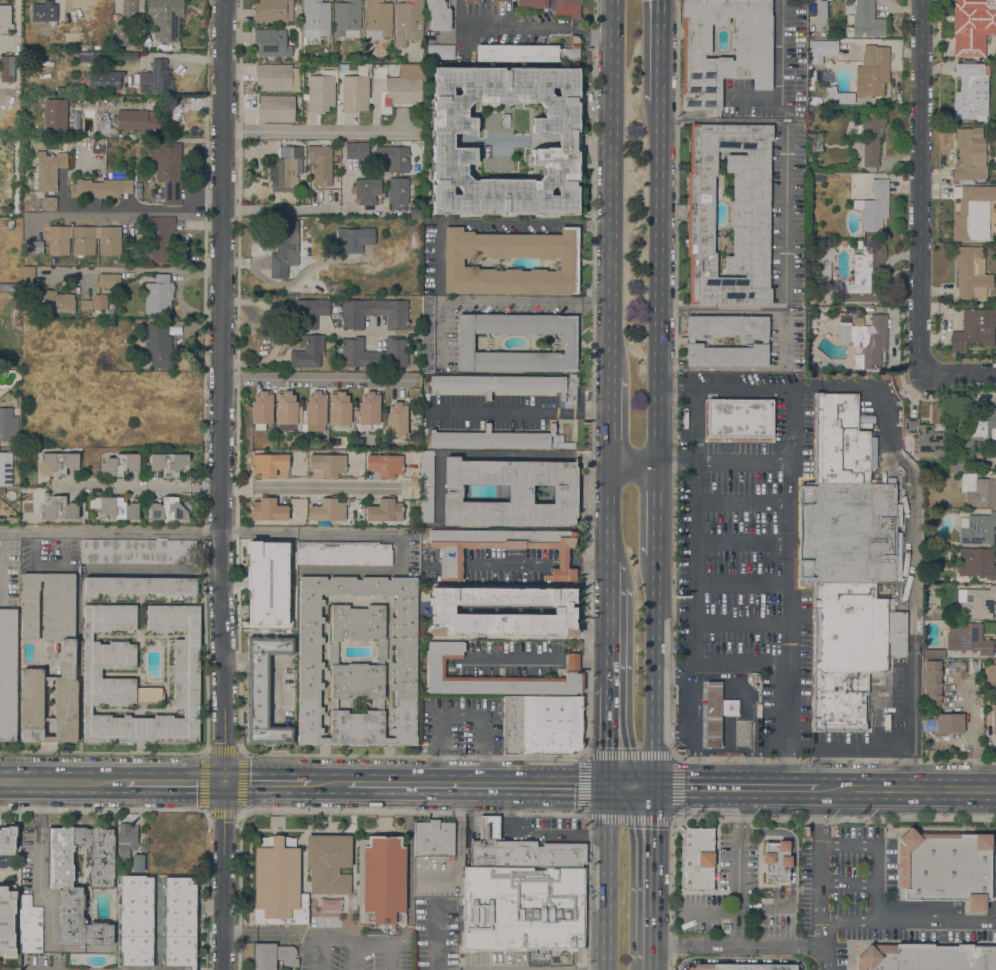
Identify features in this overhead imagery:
building: (128, 7)
building: (273, 10)
building: (49, 13)
building: (438, 15)
building: (165, 18)
building: (5, 19)
building: (347, 19)
building: (377, 19)
building: (315, 20)
building: (865, 20)
building: (408, 21)
building: (972, 26)
road: (528, 29)
building: (523, 32)
road: (602, 32)
building: (122, 35)
building: (137, 43)
building: (271, 43)
building: (827, 46)
building: (70, 47)
building: (334, 48)
road: (659, 50)
building: (440, 51)
building: (124, 56)
building: (84, 57)
building: (752, 57)
building: (9, 67)
building: (811, 67)
parking lot: (775, 70)
building: (871, 71)
road: (777, 75)
building: (276, 77)
building: (156, 78)
building: (104, 79)
building: (75, 87)
building: (403, 89)
building: (130, 91)
building: (321, 91)
building: (355, 91)
building: (970, 91)
building: (838, 98)
building: (275, 109)
building: (55, 115)
building: (137, 119)
road: (723, 121)
building: (104, 127)
road: (323, 132)
building: (871, 136)
building: (442, 140)
building: (814, 141)
building: (64, 144)
building: (356, 150)
building: (969, 155)
building: (394, 157)
building: (320, 164)
building: (168, 169)
building: (286, 169)
building: (48, 170)
building: (818, 177)
building: (100, 188)
road: (612, 188)
road: (922, 188)
building: (367, 190)
building: (50, 193)
building: (397, 193)
building: (49, 203)
building: (875, 206)
road: (300, 210)
road: (712, 210)
building: (414, 212)
building: (687, 213)
road: (694, 213)
building: (748, 213)
parking lot: (786, 213)
building: (973, 213)
road: (786, 214)
road: (130, 215)
road: (204, 222)
road: (492, 222)
building: (354, 239)
building: (83, 240)
building: (160, 240)
building: (32, 247)
building: (284, 248)
building: (16, 251)
building: (453, 262)
building: (823, 263)
road: (135, 270)
building: (971, 273)
building: (865, 274)
building: (27, 277)
building: (109, 280)
road: (658, 281)
building: (7, 287)
building: (158, 295)
building: (55, 300)
building: (93, 303)
road: (721, 306)
road: (184, 308)
building: (310, 312)
building: (374, 312)
road: (721, 313)
building: (16, 316)
building: (858, 321)
building: (16, 323)
building: (686, 325)
building: (726, 326)
building: (974, 329)
building: (427, 333)
building: (866, 339)
building: (690, 341)
road: (691, 341)
road: (707, 341)
road: (753, 341)
building: (764, 341)
parking lot: (784, 341)
road: (785, 341)
building: (465, 342)
building: (158, 345)
building: (308, 352)
building: (374, 353)
building: (726, 355)
building: (766, 356)
road: (720, 369)
road: (959, 377)
road: (320, 381)
building: (498, 384)
road: (805, 386)
road: (724, 390)
building: (570, 391)
building: (575, 393)
building: (816, 402)
building: (262, 407)
building: (286, 408)
building: (315, 408)
building: (339, 408)
building: (369, 408)
parking lot: (498, 411)
road: (518, 412)
building: (396, 418)
road: (610, 418)
building: (732, 418)
building: (764, 418)
building: (8, 425)
road: (794, 427)
building: (978, 429)
road: (677, 437)
building: (494, 438)
road: (691, 438)
building: (925, 438)
road: (738, 441)
road: (793, 441)
road: (815, 441)
building: (843, 441)
building: (574, 444)
building: (564, 445)
road: (731, 447)
building: (816, 447)
road: (633, 461)
road: (723, 462)
building: (57, 463)
building: (168, 463)
building: (119, 464)
building: (268, 464)
building: (328, 464)
building: (385, 465)
building: (957, 466)
building: (5, 468)
building: (902, 479)
road: (225, 485)
road: (140, 486)
building: (426, 486)
road: (313, 487)
building: (978, 490)
building: (2, 491)
building: (509, 493)
road: (743, 501)
building: (115, 507)
road: (656, 508)
building: (59, 509)
building: (267, 509)
building: (167, 510)
building: (327, 510)
building: (384, 511)
road: (787, 511)
building: (13, 520)
road: (609, 523)
road: (912, 524)
road: (696, 526)
building: (977, 528)
road: (201, 531)
building: (800, 531)
building: (808, 533)
road: (786, 534)
road: (674, 538)
road: (743, 541)
building: (137, 551)
building: (342, 553)
building: (451, 558)
building: (976, 562)
parking lot: (755, 563)
road: (774, 563)
road: (2, 566)
road: (742, 582)
building: (266, 583)
building: (140, 585)
road: (806, 585)
building: (976, 602)
building: (859, 607)
building: (563, 611)
road: (742, 623)
road: (789, 625)
road: (609, 635)
building: (814, 635)
building: (965, 637)
building: (933, 653)
building: (66, 654)
building: (309, 661)
road: (721, 663)
building: (435, 665)
building: (972, 667)
road: (654, 671)
building: (990, 672)
building: (8, 673)
building: (185, 673)
building: (754, 677)
building: (931, 682)
road: (737, 684)
building: (263, 690)
building: (729, 707)
building: (758, 711)
road: (464, 714)
gas station: (717, 714)
building: (993, 718)
building: (886, 721)
building: (944, 723)
building: (540, 725)
road: (674, 732)
road: (694, 734)
road: (608, 735)
road: (872, 743)
road: (801, 748)
road: (242, 752)
road: (416, 755)
road: (588, 755)
road: (675, 756)
road: (872, 758)
road: (674, 760)
road: (908, 763)
road: (752, 767)
road: (439, 769)
road: (488, 770)
road: (38, 776)
road: (102, 782)
road: (176, 782)
traffic signals: (227, 783)
road: (267, 783)
road: (326, 783)
road: (476, 785)
road: (38, 786)
traffic signals: (608, 786)
road: (631, 786)
traffic signals: (654, 787)
road: (696, 787)
road: (779, 787)
road: (908, 789)
road: (238, 810)
road: (240, 814)
road: (413, 814)
road: (586, 816)
road: (675, 821)
road: (762, 821)
road: (277, 824)
road: (328, 824)
road: (384, 825)
road: (277, 830)
building: (434, 839)
building: (7, 840)
building: (126, 840)
building: (402, 843)
road: (793, 846)
building: (521, 850)
road: (876, 855)
building: (696, 858)
building: (776, 862)
building: (137, 863)
building: (328, 863)
road: (409, 867)
road: (738, 867)
building: (945, 867)
road: (352, 868)
road: (37, 869)
road: (821, 869)
building: (361, 874)
road: (653, 875)
road: (607, 877)
parking lot: (995, 879)
building: (383, 881)
building: (278, 883)
road: (848, 885)
building: (68, 887)
parking lot: (817, 890)
building: (523, 909)
road: (765, 909)
road: (709, 914)
building: (7, 920)
building: (137, 920)
building: (180, 921)
road: (908, 921)
building: (30, 926)
building: (725, 927)
road: (435, 934)
road: (264, 935)
road: (347, 941)
road: (747, 947)
parking lot: (826, 953)
building: (273, 955)
road: (321, 955)
road: (356, 955)
road: (392, 955)
building: (927, 957)
road: (740, 960)
road: (652, 966)
building: (742, 967)

